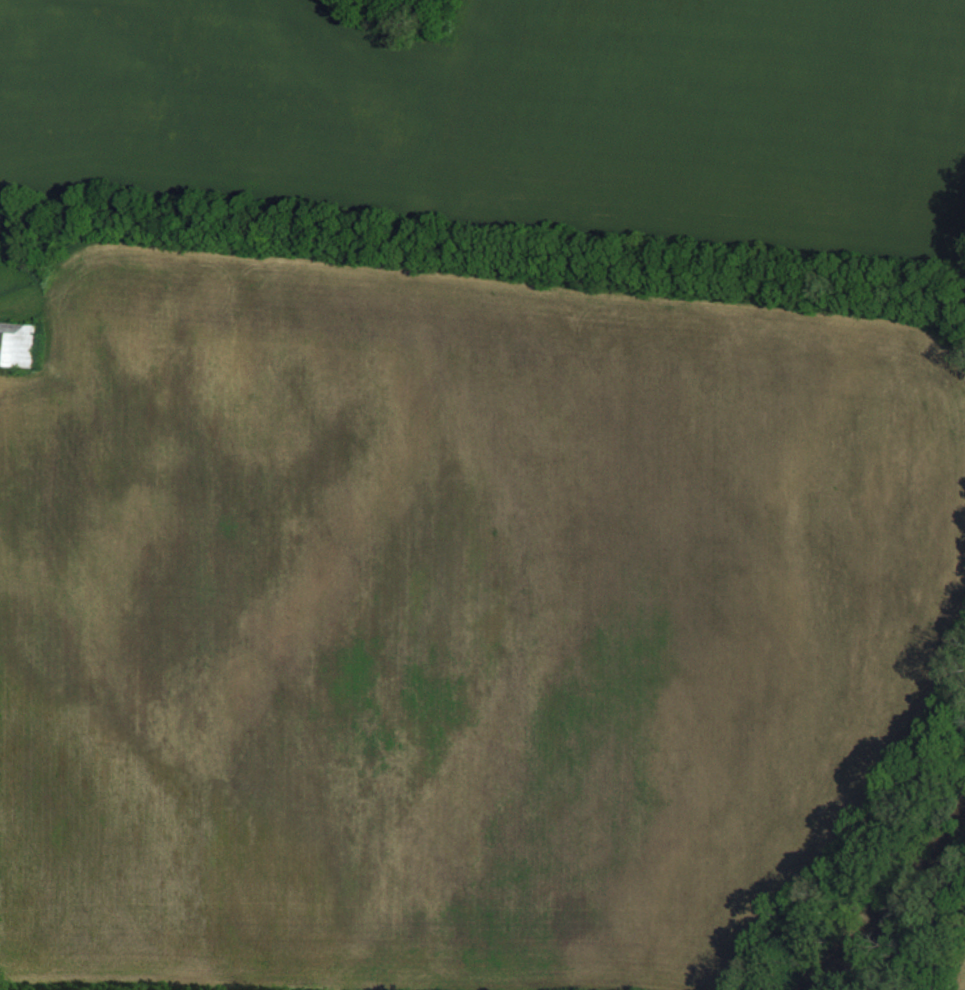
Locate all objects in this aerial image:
building: (17, 344)

